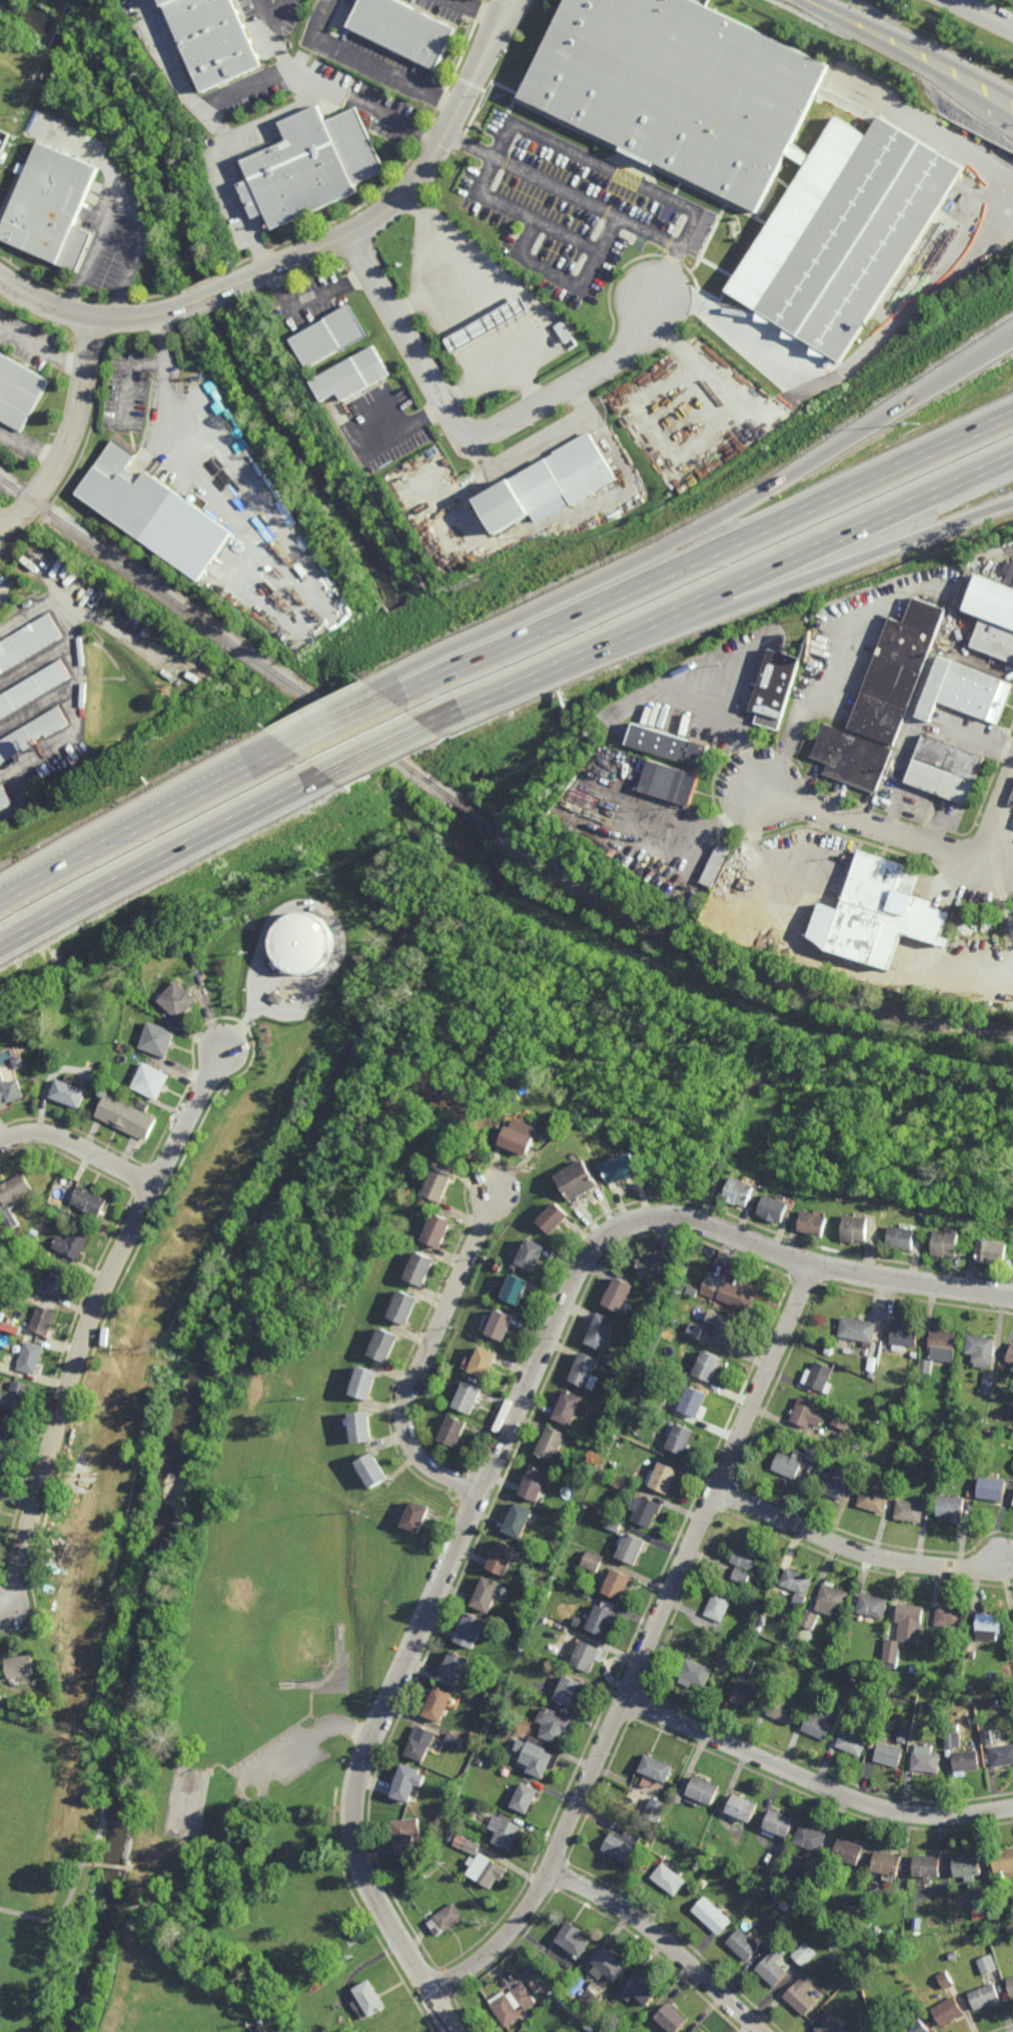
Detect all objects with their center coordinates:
road: (266, 9)
road: (277, 9)
road: (480, 10)
road: (505, 10)
road: (512, 10)
road: (982, 14)
building: (407, 30)
building: (215, 40)
road: (911, 49)
road: (375, 63)
building: (679, 89)
road: (344, 93)
road: (279, 117)
building: (312, 164)
road: (604, 168)
road: (404, 195)
road: (590, 202)
road: (242, 205)
building: (53, 206)
road: (122, 206)
road: (543, 219)
building: (843, 231)
road: (764, 256)
road: (553, 268)
road: (921, 295)
road: (212, 296)
road: (94, 318)
building: (489, 325)
building: (330, 336)
road: (44, 346)
road: (144, 363)
building: (355, 375)
road: (719, 383)
building: (19, 391)
road: (404, 428)
road: (74, 438)
road: (477, 438)
road: (30, 447)
building: (546, 485)
building: (153, 512)
road: (1, 524)
road: (706, 528)
road: (1011, 551)
road: (705, 558)
road: (851, 560)
road: (291, 574)
building: (1010, 577)
road: (722, 590)
building: (992, 618)
railway: (228, 637)
building: (29, 643)
road: (983, 662)
building: (922, 679)
building: (775, 685)
building: (34, 688)
road: (808, 705)
road: (346, 723)
road: (915, 731)
building: (33, 733)
road: (736, 735)
building: (671, 740)
road: (380, 751)
building: (852, 757)
building: (946, 767)
building: (673, 778)
road: (217, 786)
building: (5, 797)
road: (926, 807)
railway: (479, 816)
road: (705, 833)
road: (906, 837)
road: (162, 858)
road: (69, 865)
building: (717, 865)
building: (886, 911)
building: (306, 944)
storage tank: (306, 944)
railway: (743, 968)
building: (279, 998)
building: (179, 999)
building: (24, 1004)
building: (131, 1021)
road: (714, 1037)
building: (159, 1038)
building: (19, 1062)
building: (153, 1080)
building: (10, 1089)
building: (69, 1090)
building: (145, 1105)
building: (128, 1116)
building: (521, 1137)
road: (80, 1146)
building: (451, 1164)
building: (626, 1169)
building: (581, 1181)
building: (439, 1185)
building: (743, 1193)
building: (14, 1197)
building: (91, 1201)
building: (777, 1210)
building: (890, 1216)
building: (557, 1220)
building: (390, 1225)
building: (817, 1225)
building: (860, 1230)
building: (439, 1231)
building: (907, 1240)
building: (74, 1244)
building: (950, 1244)
building: (997, 1254)
building: (535, 1256)
building: (657, 1266)
building: (499, 1268)
building: (421, 1270)
road: (847, 1270)
building: (15, 1281)
building: (59, 1281)
building: (692, 1290)
building: (731, 1291)
building: (519, 1292)
building: (621, 1295)
building: (404, 1309)
building: (44, 1320)
road: (93, 1320)
building: (10, 1327)
building: (503, 1328)
building: (724, 1329)
building: (859, 1331)
building: (695, 1332)
building: (603, 1334)
building: (906, 1337)
building: (944, 1346)
building: (384, 1347)
building: (981, 1350)
building: (1010, 1354)
building: (31, 1357)
road: (426, 1358)
building: (485, 1365)
building: (873, 1365)
building: (709, 1367)
building: (926, 1368)
building: (587, 1373)
building: (821, 1379)
building: (366, 1383)
building: (987, 1383)
building: (429, 1391)
building: (17, 1395)
building: (692, 1400)
building: (466, 1401)
building: (1010, 1409)
building: (570, 1410)
building: (930, 1411)
building: (809, 1413)
building: (844, 1417)
building: (366, 1424)
building: (988, 1429)
building: (10, 1431)
building: (455, 1431)
building: (680, 1435)
building: (800, 1439)
building: (550, 1442)
building: (797, 1458)
building: (378, 1467)
building: (4, 1468)
building: (623, 1471)
building: (661, 1473)
building: (535, 1479)
building: (616, 1479)
building: (838, 1481)
building: (387, 1484)
building: (991, 1487)
building: (893, 1488)
building: (0, 1497)
building: (874, 1499)
building: (0, 1502)
building: (644, 1506)
building: (950, 1506)
building: (911, 1509)
building: (417, 1514)
building: (519, 1516)
building: (612, 1521)
building: (629, 1544)
road: (854, 1549)
building: (502, 1554)
building: (746, 1556)
building: (591, 1558)
building: (742, 1574)
building: (797, 1580)
building: (615, 1581)
building: (486, 1591)
road: (438, 1594)
building: (833, 1597)
building: (719, 1605)
building: (873, 1605)
park: (266, 1608)
building: (950, 1616)
building: (602, 1617)
building: (811, 1619)
building: (579, 1620)
building: (763, 1620)
building: (987, 1625)
building: (532, 1627)
building: (469, 1628)
building: (906, 1630)
building: (341, 1632)
road: (648, 1646)
building: (586, 1654)
building: (22, 1665)
building: (746, 1665)
building: (455, 1669)
building: (915, 1669)
building: (955, 1670)
building: (694, 1673)
building: (291, 1682)
building: (569, 1690)
building: (489, 1696)
building: (746, 1696)
building: (437, 1702)
building: (998, 1702)
road: (312, 1705)
building: (922, 1706)
building: (782, 1710)
building: (932, 1711)
building: (834, 1714)
building: (876, 1714)
road: (319, 1721)
building: (554, 1723)
building: (10, 1724)
building: (817, 1725)
building: (903, 1735)
road: (311, 1737)
building: (452, 1738)
building: (954, 1740)
building: (419, 1742)
building: (853, 1742)
building: (998, 1746)
building: (538, 1754)
building: (890, 1754)
parking lot: (284, 1756)
building: (926, 1759)
building: (966, 1760)
road: (219, 1765)
building: (657, 1768)
park: (204, 1773)
road: (241, 1774)
road: (813, 1781)
building: (406, 1782)
road: (241, 1789)
building: (703, 1791)
building: (680, 1795)
building: (524, 1797)
park: (187, 1802)
road: (205, 1804)
building: (743, 1808)
building: (656, 1810)
park: (32, 1811)
road: (272, 1813)
building: (779, 1824)
building: (504, 1831)
building: (451, 1835)
building: (403, 1836)
building: (812, 1838)
building: (466, 1844)
building: (623, 1845)
building: (705, 1845)
road: (165, 1851)
building: (426, 1852)
building: (850, 1852)
building: (1004, 1862)
building: (888, 1864)
building: (743, 1866)
building: (929, 1866)
road: (113, 1867)
building: (969, 1867)
building: (485, 1869)
building: (670, 1879)
building: (704, 1884)
road: (61, 1915)
building: (713, 1916)
building: (444, 1919)
building: (875, 1931)
building: (575, 1940)
road: (663, 1941)
building: (769, 1943)
building: (744, 1946)
building: (869, 1948)
building: (804, 1954)
building: (954, 1955)
building: (987, 1964)
building: (611, 1966)
building: (773, 1967)
park: (18, 1975)
building: (946, 1980)
building: (1011, 1986)
building: (642, 1991)
building: (803, 1996)
building: (985, 1997)
building: (370, 2001)
building: (591, 2001)
building: (513, 2003)
building: (917, 2010)
building: (949, 2011)
building: (673, 2019)
building: (572, 2020)
building: (827, 2025)
building: (918, 2027)
building: (528, 2031)
building: (699, 2031)

